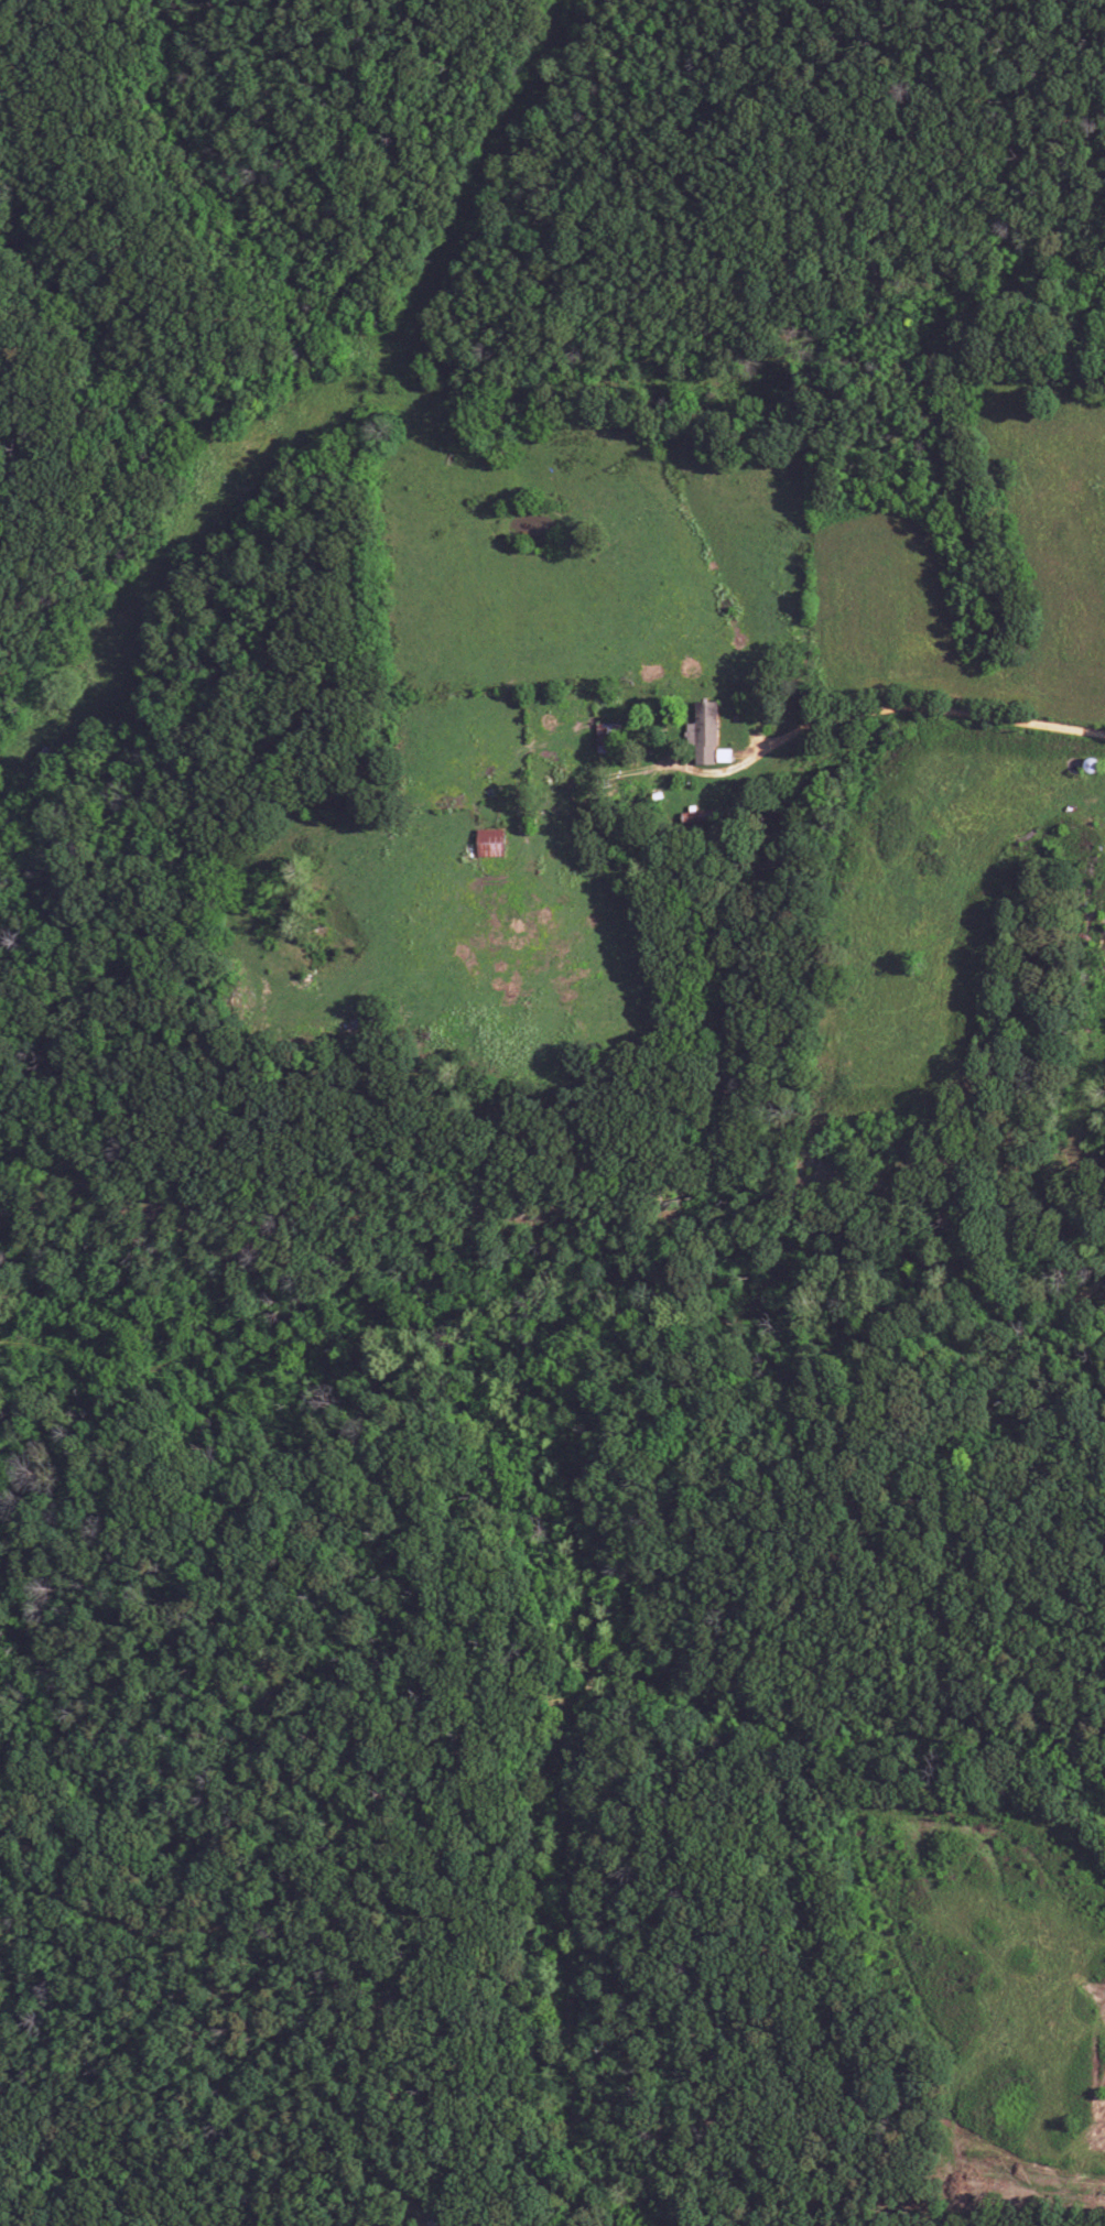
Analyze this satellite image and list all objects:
road: (885, 709)
building: (703, 734)
building: (604, 737)
building: (691, 817)
building: (489, 844)
road: (578, 1533)
road: (356, 1747)
road: (327, 1942)

